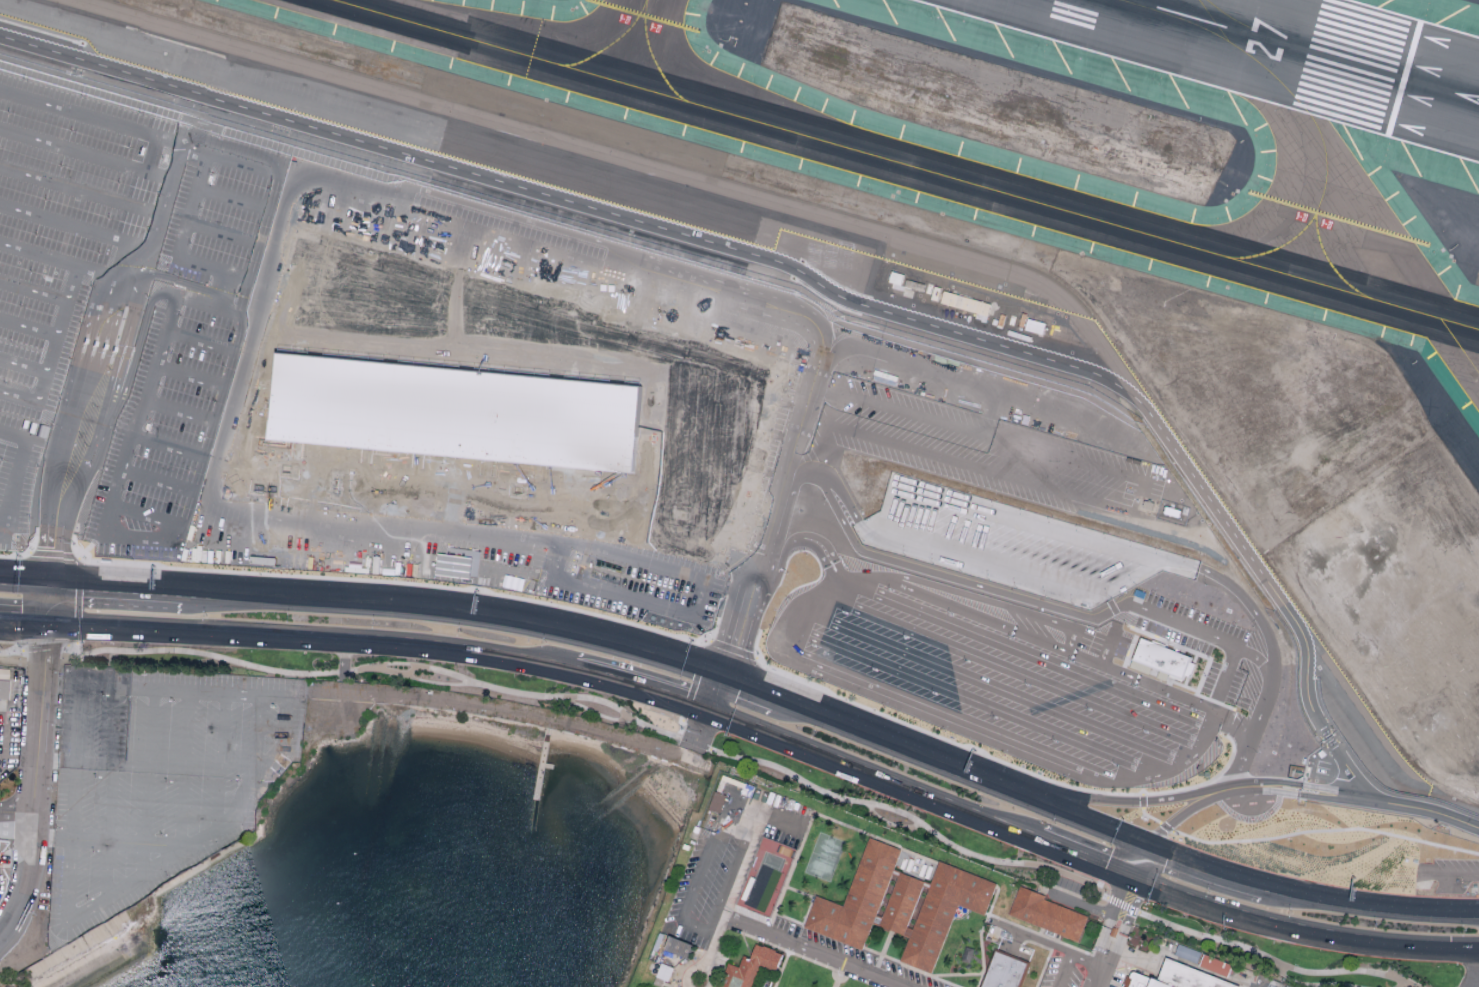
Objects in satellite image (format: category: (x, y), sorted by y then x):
airport taxiway: (1213, 20)
airport taxiway: (1247, 27)
airport taxiway: (610, 45)
airport runway: (1304, 50)
airport taxiway: (654, 59)
airport taxiway: (1281, 82)
airport taxiway: (887, 159)
road: (297, 179)
airport taxiway: (1276, 250)
road: (766, 256)
road: (595, 267)
airport taxiway: (1332, 267)
road: (413, 276)
building: (895, 277)
building: (914, 284)
building: (935, 292)
building: (965, 303)
parking lot: (198, 317)
building: (1033, 325)
airport taxiway: (1459, 326)
road: (608, 329)
airport taxiway: (1459, 348)
airport: (805, 351)
building: (457, 412)
road: (66, 459)
building: (774, 472)
road: (511, 497)
road: (261, 512)
road: (767, 512)
road: (764, 534)
road: (1089, 537)
road: (1033, 542)
road: (816, 546)
traffic signals: (50, 547)
road: (273, 548)
road: (1072, 554)
road: (27, 556)
road: (806, 558)
road: (1179, 563)
road: (1107, 565)
parking lot: (726, 569)
road: (50, 571)
road: (393, 572)
road: (997, 572)
road: (25, 578)
parking lot: (630, 580)
traffic signals: (83, 587)
road: (1040, 587)
road: (116, 589)
road: (1075, 598)
road: (457, 609)
road: (49, 610)
road: (1111, 610)
road: (742, 614)
road: (1255, 614)
traffic signals: (15, 619)
road: (23, 619)
road: (63, 621)
road: (145, 626)
road: (1047, 632)
road: (386, 639)
road: (961, 641)
traffic signals: (46, 642)
road: (45, 644)
traffic signals: (734, 644)
road: (22, 649)
road: (199, 652)
building: (1163, 658)
road: (1259, 661)
road: (390, 662)
road: (342, 663)
building: (1148, 668)
road: (409, 669)
road: (393, 672)
road: (1228, 674)
road: (636, 680)
parking lot: (993, 681)
road: (443, 682)
traffic signals: (740, 685)
road: (993, 686)
building: (6, 690)
road: (759, 691)
traffic signals: (684, 695)
road: (562, 696)
road: (499, 708)
road: (708, 709)
road: (39, 712)
road: (594, 712)
road: (934, 716)
traffic signals: (701, 724)
road: (185, 726)
road: (222, 728)
road: (258, 731)
road: (2, 741)
road: (891, 741)
road: (284, 742)
road: (1226, 743)
road: (1196, 749)
pier: (544, 759)
road: (842, 759)
pier: (543, 762)
road: (1350, 769)
road: (1274, 782)
building: (737, 786)
road: (1321, 788)
road: (1225, 789)
road: (1270, 790)
road: (1316, 795)
road: (1094, 800)
building: (717, 801)
road: (1409, 807)
road: (1066, 812)
road: (770, 815)
road: (16, 816)
road: (180, 819)
road: (917, 821)
road: (890, 823)
road: (144, 829)
road: (855, 830)
road: (107, 839)
road: (1050, 841)
road: (93, 843)
road: (30, 846)
road: (1099, 847)
park: (824, 857)
parking lot: (730, 861)
road: (789, 872)
building: (896, 873)
park: (765, 877)
road: (1456, 878)
building: (927, 885)
road: (799, 893)
road: (1226, 893)
parking lot: (1071, 895)
road: (1310, 896)
building: (857, 899)
road: (1114, 899)
road: (1082, 900)
building: (902, 903)
road: (1137, 907)
building: (944, 913)
building: (1047, 915)
road: (789, 919)
building: (878, 921)
road: (685, 923)
road: (1298, 925)
road: (982, 929)
building: (908, 932)
road: (1040, 935)
road: (796, 940)
building: (658, 941)
road: (713, 942)
road: (1044, 943)
traffic signals: (1451, 944)
building: (678, 945)
road: (1103, 947)
road: (810, 949)
road: (1114, 951)
road: (881, 952)
building: (1187, 953)
building: (967, 955)
road: (977, 960)
road: (1275, 960)
road: (1087, 961)
road: (898, 962)
building: (1216, 965)
road: (698, 968)
building: (749, 968)
road: (780, 970)
building: (664, 971)
building: (1005, 971)
road: (1065, 971)
parking lot: (1079, 973)
road: (959, 976)
airport hangar: (1188, 976)
building: (1188, 976)
road: (1099, 977)
building: (658, 981)
airport hangar: (1140, 981)
building: (1140, 981)
road: (844, 982)
road: (944, 982)
road: (1317, 982)
airport hangar: (1159, 984)
building: (1159, 984)
road: (835, 985)
road: (1406, 985)
building: (1287, 986)

